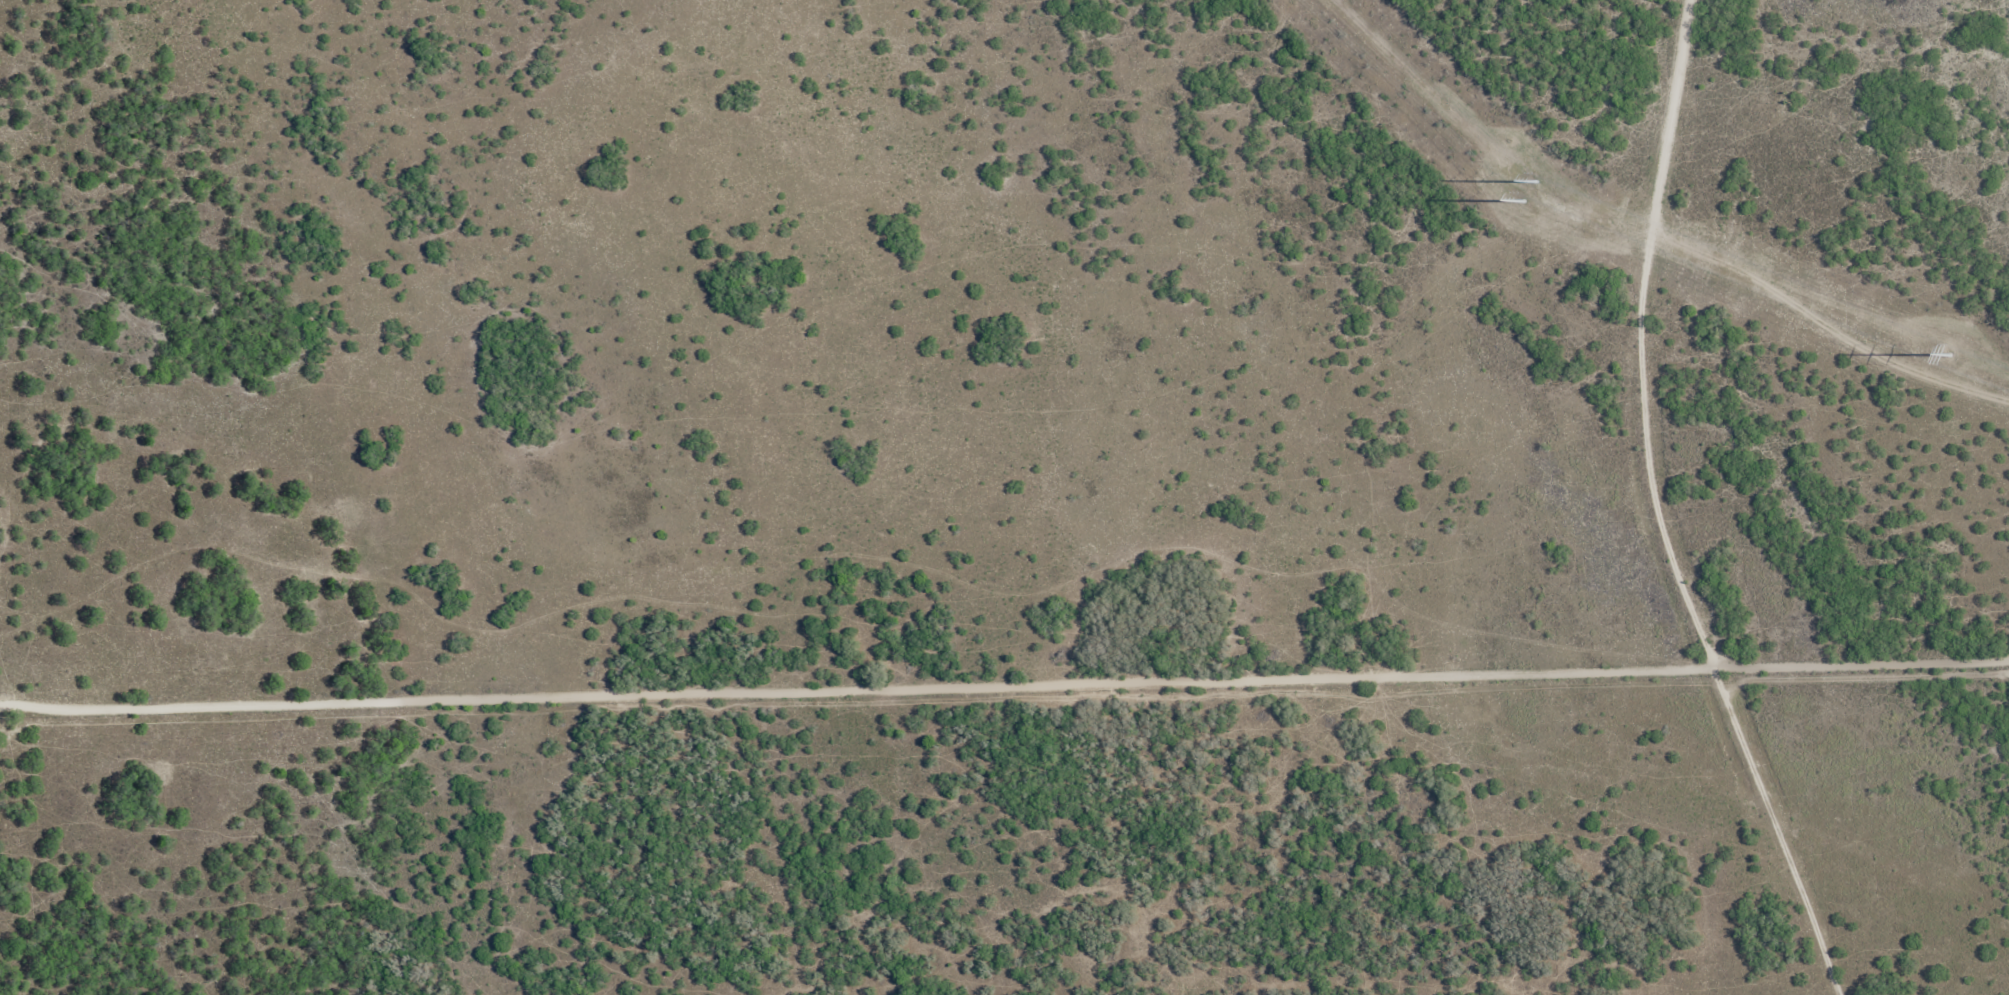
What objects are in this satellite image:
power tower: (1535, 204)
power tower: (1958, 358)

